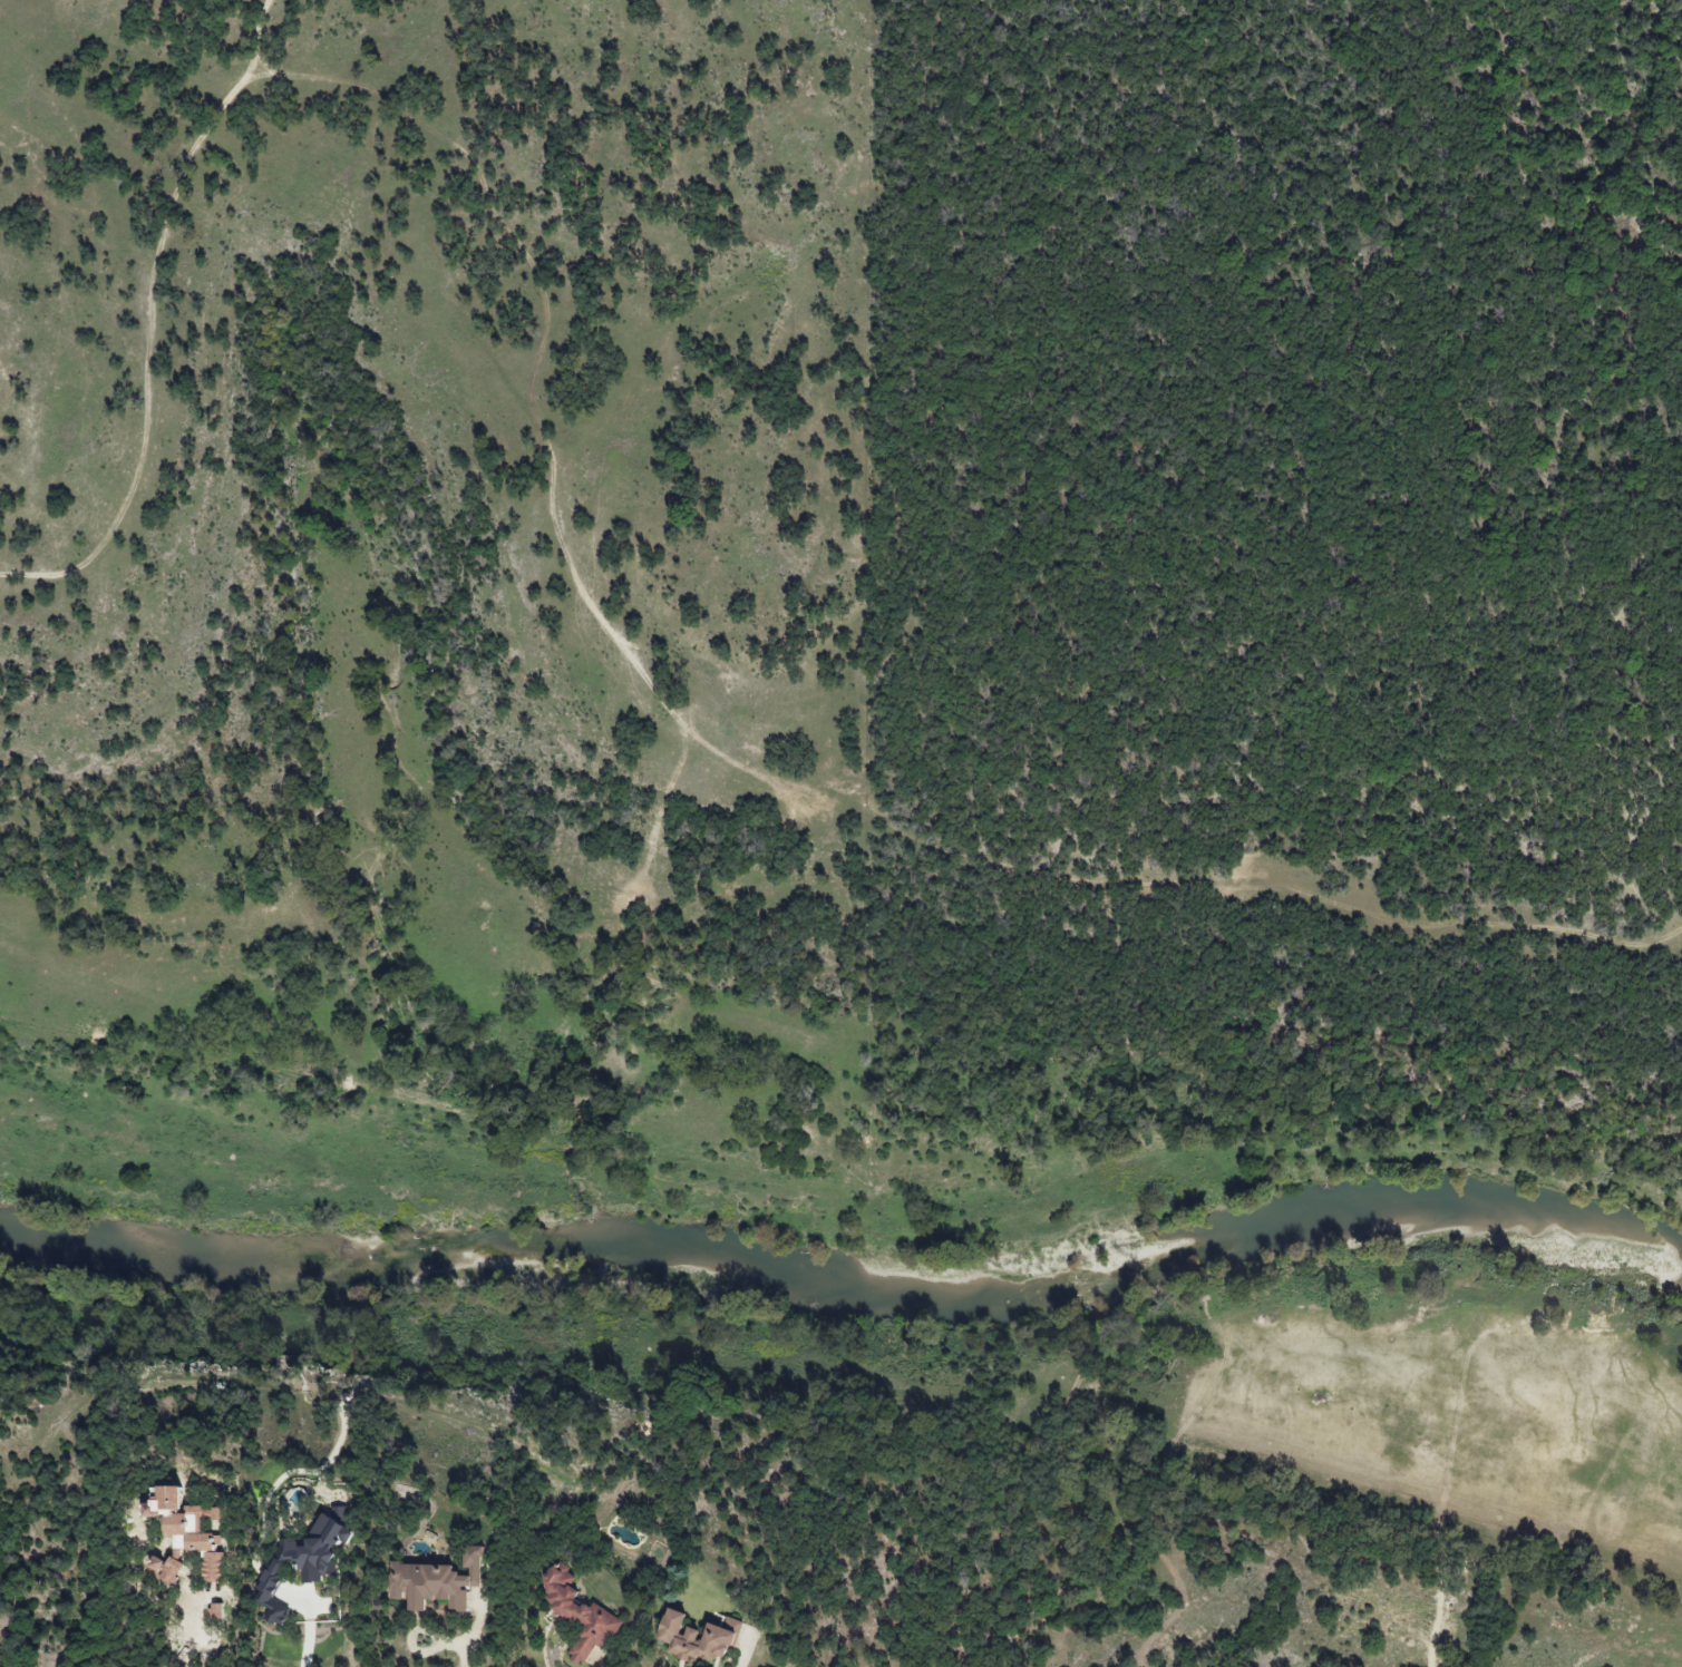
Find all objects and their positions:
river: (846, 1291)
building: (189, 1529)
building: (301, 1562)
building: (164, 1569)
building: (435, 1580)
building: (579, 1614)
road: (475, 1635)
building: (692, 1638)
road: (742, 1661)
road: (600, 1665)

